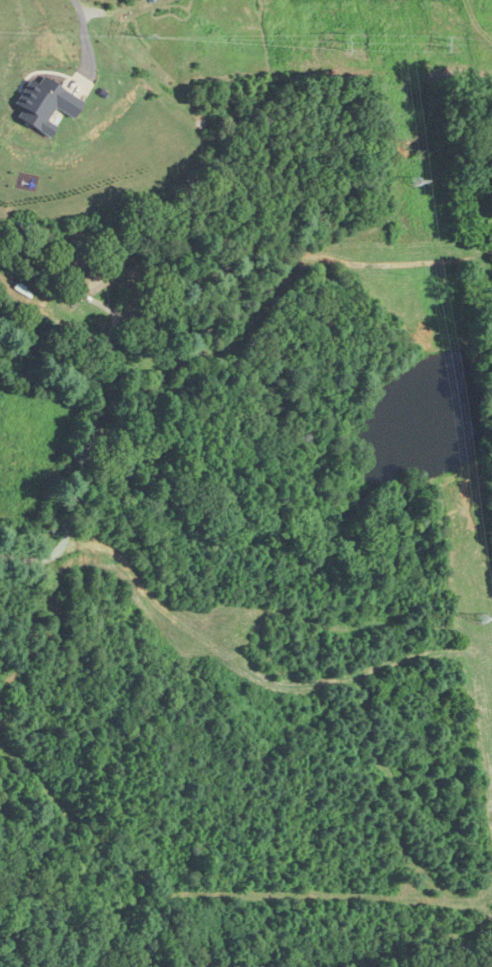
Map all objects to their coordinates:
road: (77, 34)
power tower: (415, 179)
building: (125, 248)
road: (398, 258)
building: (91, 281)
road: (153, 386)
road: (100, 399)
power tower: (483, 620)

